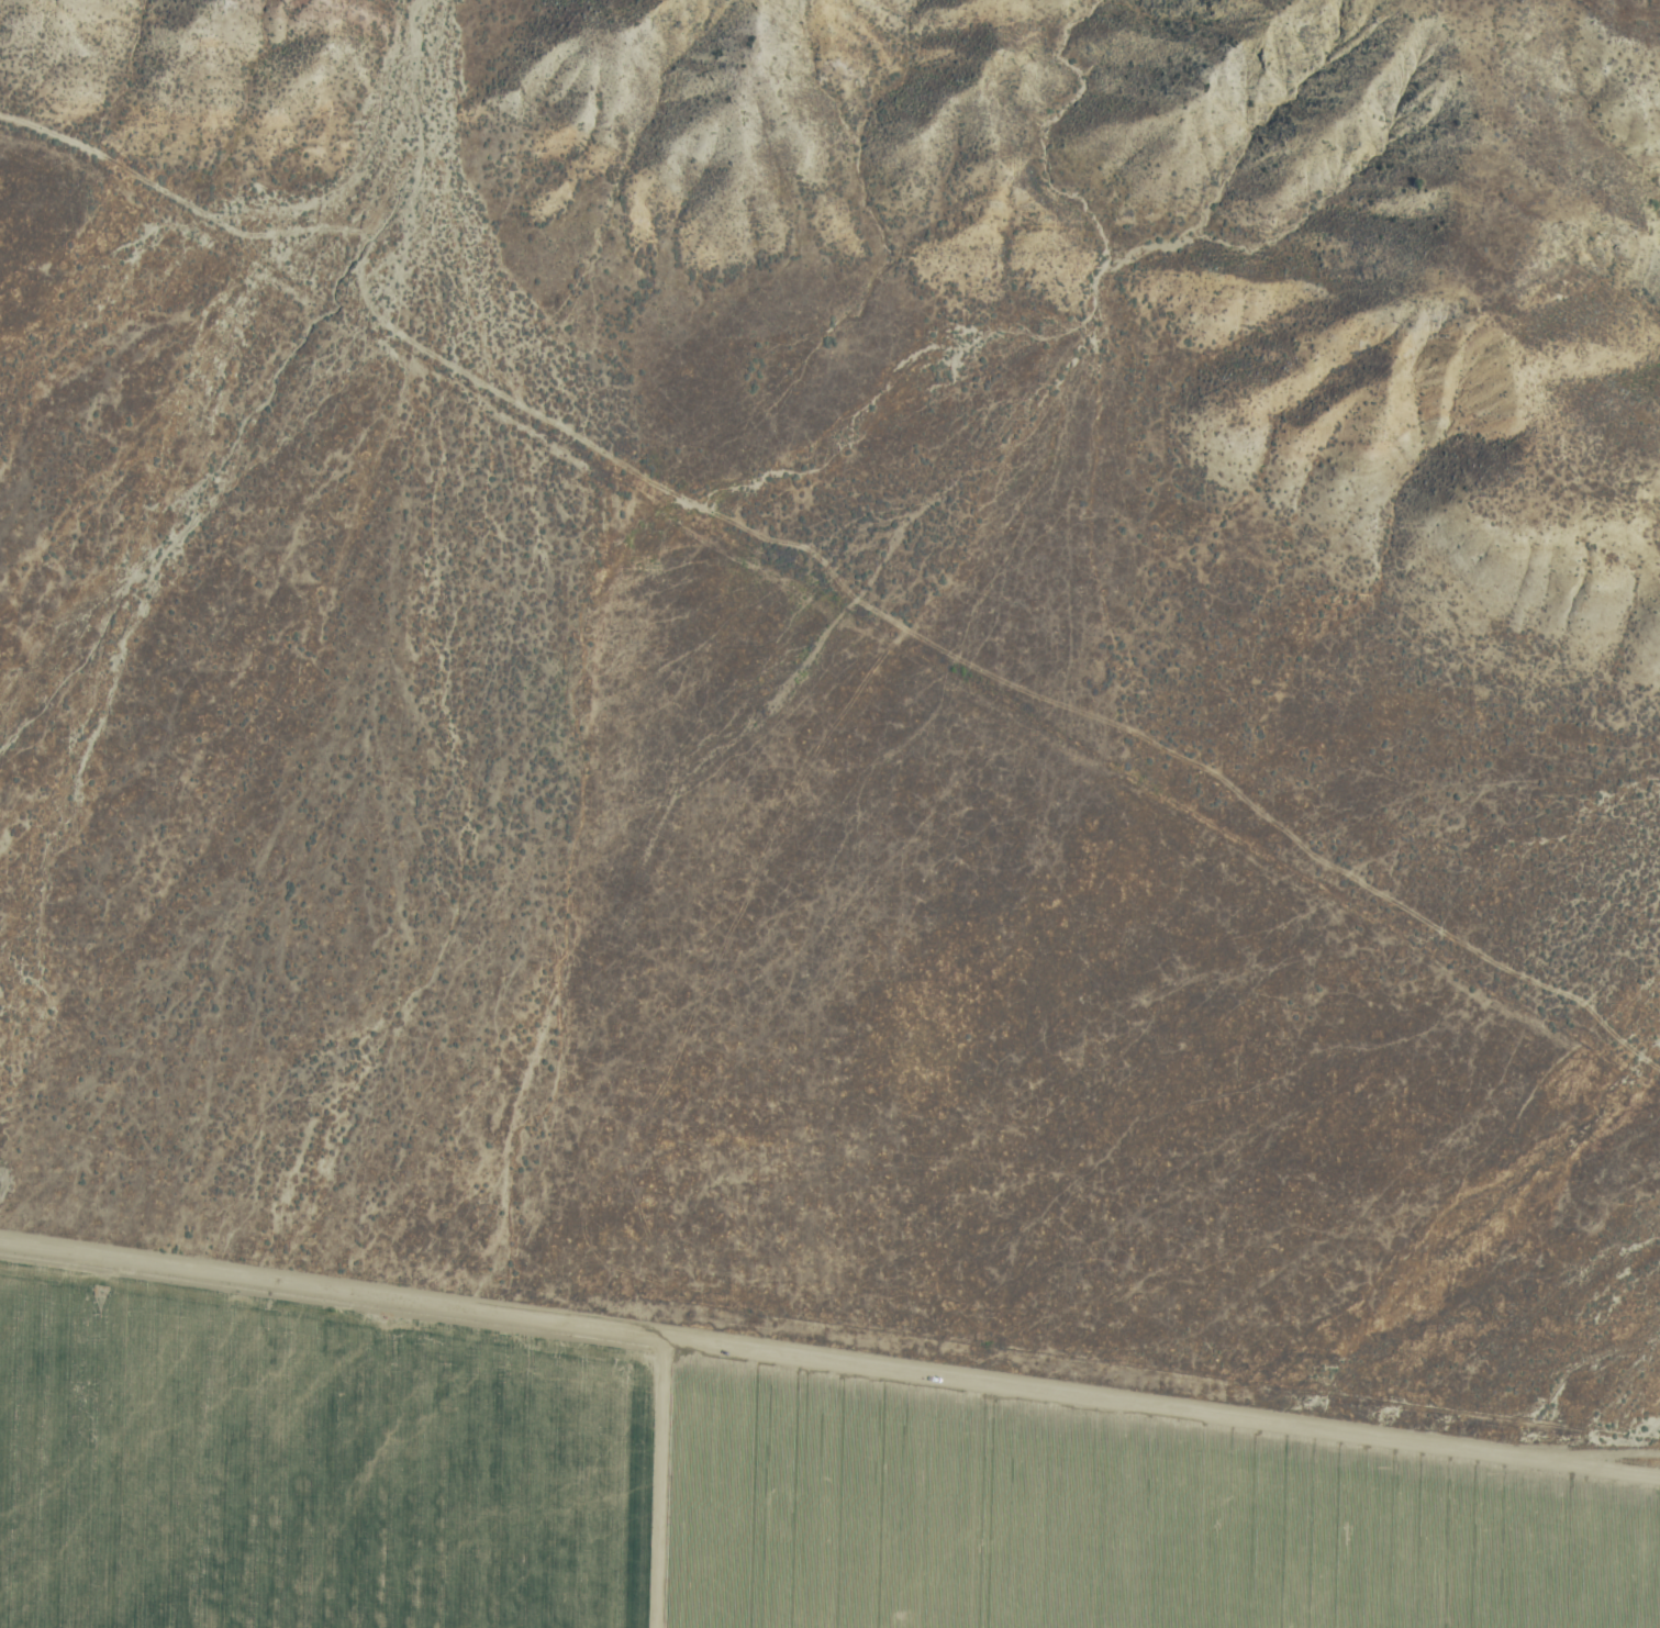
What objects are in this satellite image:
road: (176, 196)
crop: (313, 1465)
crop: (1115, 1520)

